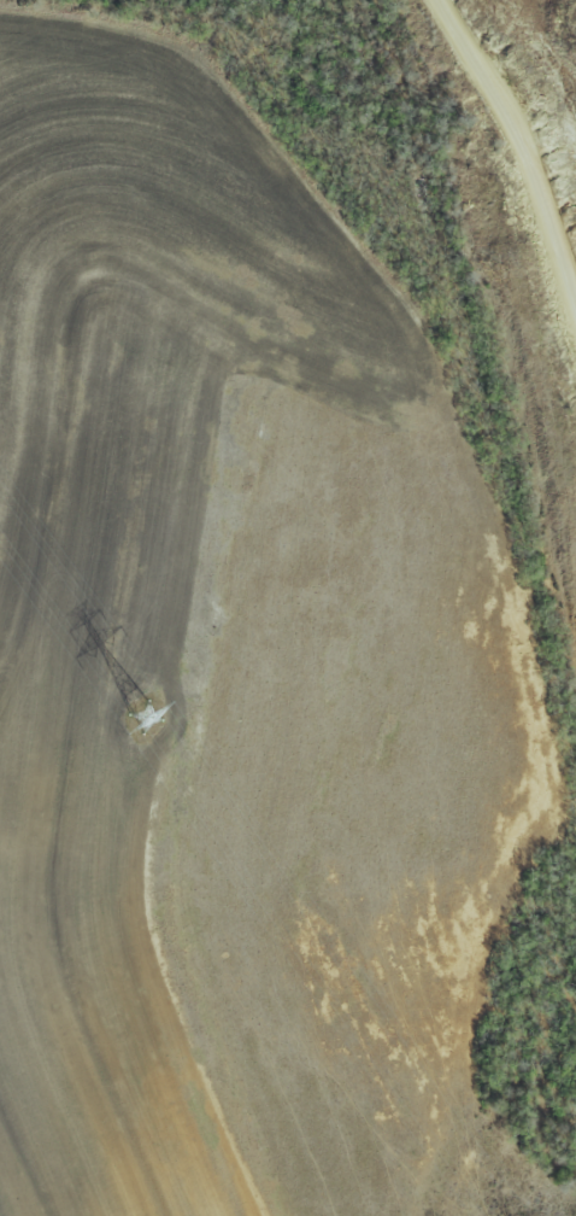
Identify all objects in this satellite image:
power tower: (145, 719)

